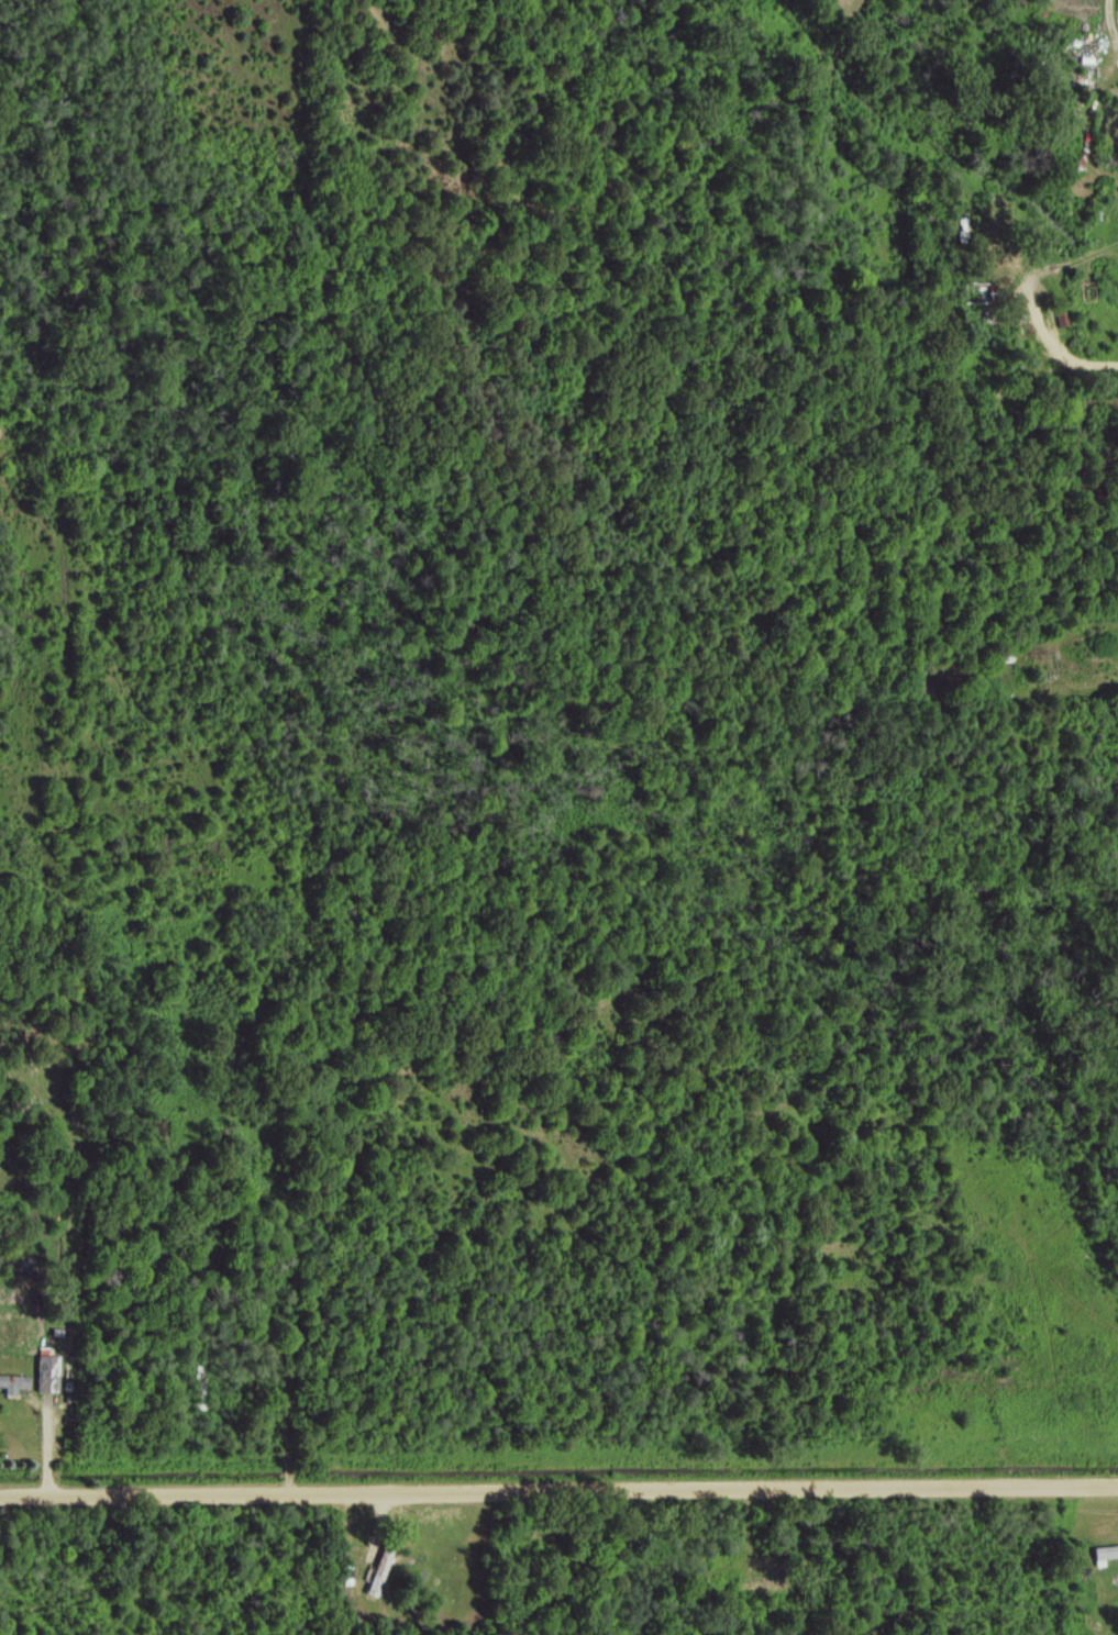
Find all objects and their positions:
road: (1108, 15)
road: (1060, 354)
building: (46, 1373)
road: (558, 1492)
building: (1104, 1553)
building: (378, 1570)

